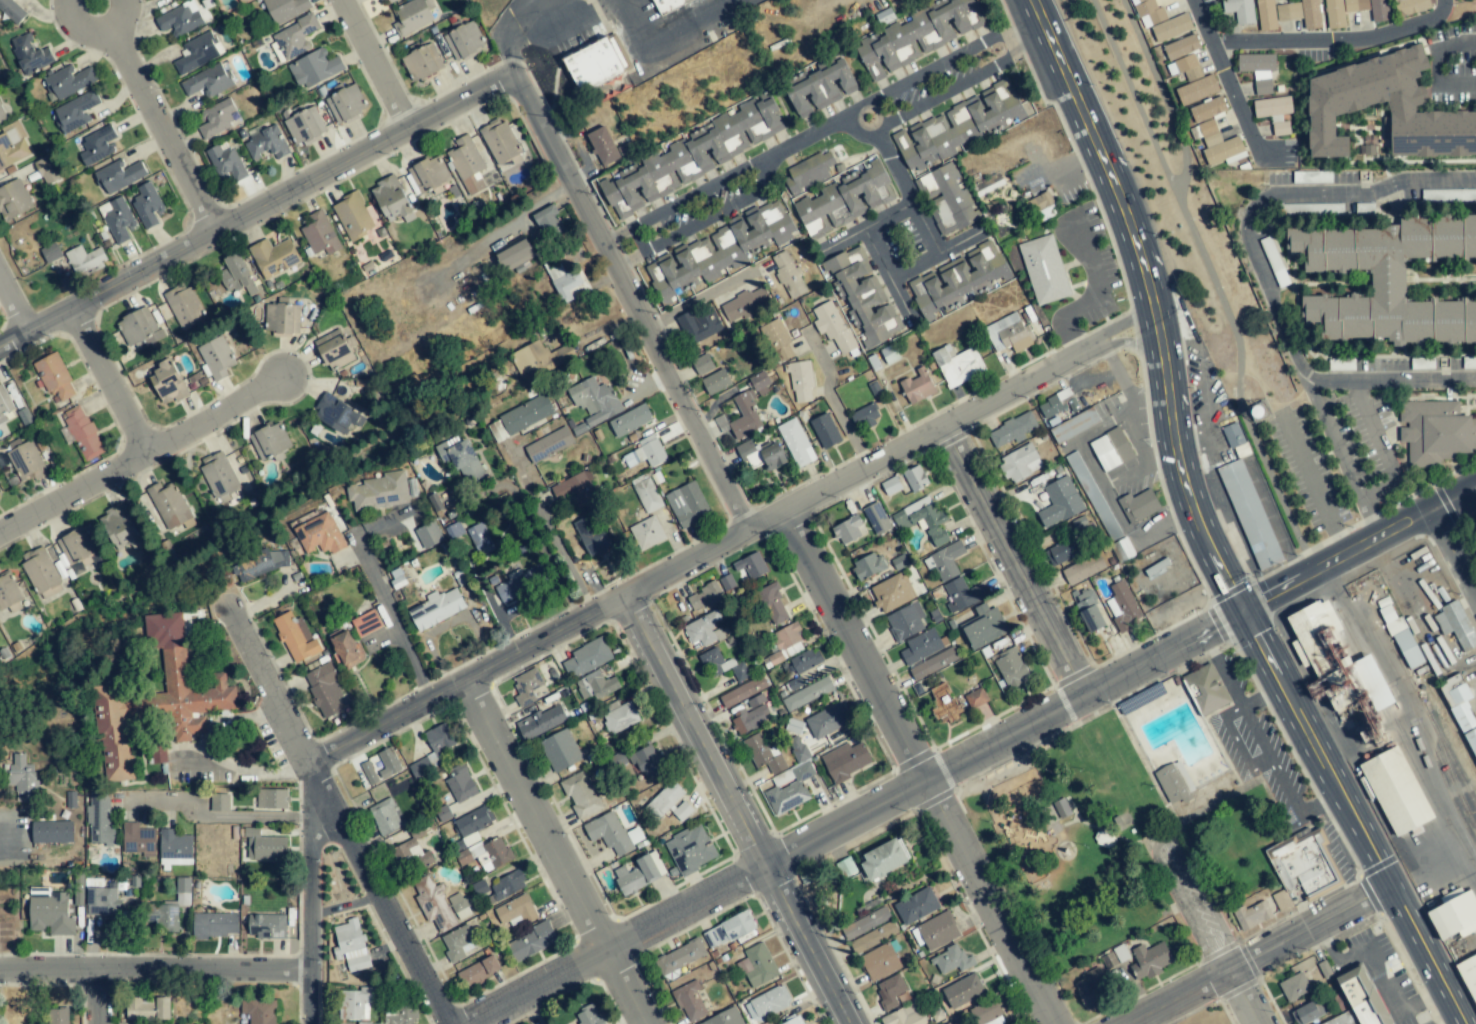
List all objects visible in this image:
road: (93, 0)
road: (94, 0)
building: (381, 0)
building: (390, 0)
building: (242, 1)
building: (656, 3)
building: (1411, 6)
building: (285, 9)
building: (12, 10)
building: (1379, 10)
building: (1238, 11)
building: (1342, 11)
building: (1149, 12)
building: (1276, 13)
building: (1311, 14)
building: (411, 17)
building: (180, 19)
building: (1171, 27)
road: (511, 29)
building: (917, 35)
building: (294, 38)
building: (464, 40)
road: (669, 40)
road: (1333, 41)
building: (1181, 47)
building: (198, 52)
building: (30, 54)
road: (373, 64)
building: (419, 64)
building: (593, 64)
building: (1185, 67)
road: (1433, 68)
building: (315, 69)
building: (1258, 70)
road: (1067, 79)
building: (67, 81)
building: (207, 81)
road: (487, 83)
building: (821, 86)
building: (1196, 90)
road: (1231, 90)
building: (346, 104)
building: (1335, 108)
building: (1207, 109)
building: (75, 111)
building: (1274, 112)
building: (2, 116)
road: (156, 116)
building: (215, 119)
building: (957, 126)
building: (302, 127)
road: (818, 128)
building: (499, 141)
building: (267, 143)
building: (95, 145)
building: (1219, 145)
building: (606, 146)
building: (12, 148)
building: (692, 156)
building: (225, 161)
building: (467, 164)
building: (46, 170)
building: (809, 173)
building: (428, 174)
building: (119, 175)
building: (1305, 177)
building: (390, 198)
building: (844, 198)
building: (13, 200)
building: (948, 200)
building: (148, 205)
building: (352, 215)
building: (117, 219)
building: (549, 223)
building: (319, 234)
building: (718, 250)
building: (50, 253)
building: (514, 253)
building: (273, 257)
building: (85, 259)
road: (926, 265)
road: (1261, 268)
building: (1044, 269)
building: (234, 273)
building: (788, 275)
building: (958, 278)
building: (566, 280)
building: (1386, 280)
road: (1093, 294)
building: (861, 296)
road: (701, 299)
road: (13, 302)
building: (744, 304)
building: (285, 318)
building: (699, 324)
building: (832, 326)
building: (139, 327)
building: (1009, 334)
building: (778, 340)
building: (334, 349)
building: (889, 354)
building: (216, 357)
building: (537, 358)
building: (1469, 363)
building: (702, 364)
railway: (1244, 364)
building: (1341, 364)
building: (957, 365)
building: (54, 378)
road: (1391, 379)
road: (108, 380)
building: (167, 381)
building: (715, 381)
building: (801, 381)
building: (760, 383)
building: (917, 386)
road: (1168, 388)
building: (594, 400)
building: (4, 401)
road: (832, 402)
building: (1056, 404)
building: (336, 413)
road: (212, 416)
building: (745, 416)
building: (864, 416)
building: (520, 418)
building: (630, 420)
building: (1074, 425)
building: (1011, 430)
building: (825, 431)
building: (1435, 431)
building: (82, 432)
building: (1233, 435)
building: (270, 440)
building: (795, 442)
building: (548, 445)
road: (1381, 450)
building: (646, 452)
building: (1104, 453)
road: (892, 454)
building: (761, 455)
building: (462, 459)
building: (27, 460)
road: (1088, 461)
building: (1019, 463)
road: (1140, 468)
building: (218, 475)
building: (915, 478)
building: (890, 485)
road: (1312, 490)
building: (574, 491)
road: (72, 492)
building: (380, 492)
building: (646, 494)
building: (1093, 496)
building: (0, 499)
building: (1059, 502)
building: (687, 504)
building: (1139, 505)
building: (170, 508)
building: (1250, 514)
building: (876, 518)
building: (923, 520)
building: (119, 526)
park: (1467, 529)
building: (454, 530)
building: (848, 530)
road: (553, 532)
building: (646, 533)
building: (321, 535)
building: (428, 535)
building: (591, 537)
building: (479, 539)
building: (77, 548)
road: (1456, 548)
building: (1122, 549)
road: (1359, 550)
building: (1058, 553)
building: (945, 561)
building: (751, 565)
road: (1009, 565)
building: (868, 566)
building: (1083, 569)
building: (42, 573)
building: (521, 582)
building: (726, 582)
traffic signals: (1230, 587)
building: (9, 592)
building: (891, 593)
building: (963, 594)
building: (705, 595)
traffic signals: (1262, 603)
building: (773, 604)
building: (1122, 606)
building: (436, 608)
building: (1089, 611)
road: (390, 617)
building: (905, 621)
building: (367, 623)
building: (1455, 625)
building: (983, 626)
building: (704, 629)
traffic signals: (1214, 629)
traffic signals: (1256, 634)
building: (1400, 635)
building: (295, 636)
building: (788, 640)
building: (920, 646)
building: (346, 647)
building: (587, 657)
building: (806, 660)
building: (933, 664)
building: (1339, 664)
building: (722, 665)
building: (1010, 667)
road: (469, 679)
building: (596, 685)
building: (527, 686)
building: (324, 688)
building: (1207, 690)
building: (743, 691)
building: (807, 694)
building: (975, 698)
building: (157, 699)
building: (1458, 700)
building: (944, 704)
building: (751, 715)
building: (620, 717)
building: (827, 720)
building: (541, 722)
road: (1006, 739)
building: (1471, 740)
building: (438, 741)
road: (1318, 749)
building: (560, 750)
building: (800, 753)
building: (763, 754)
building: (646, 761)
building: (845, 761)
building: (386, 763)
railway: (1451, 764)
road: (183, 766)
building: (420, 768)
road: (914, 769)
railway: (1449, 771)
building: (368, 772)
parking lot: (1274, 773)
building: (23, 778)
railway: (1446, 778)
building: (460, 783)
building: (1174, 783)
road: (327, 790)
building: (790, 791)
building: (1395, 791)
building: (582, 794)
building: (272, 799)
building: (220, 802)
building: (669, 802)
road: (738, 809)
building: (1063, 809)
road: (214, 816)
building: (384, 817)
building: (100, 819)
road: (1175, 821)
building: (52, 831)
building: (612, 833)
building: (138, 840)
building: (472, 840)
park: (1073, 843)
building: (265, 846)
building: (175, 848)
building: (690, 849)
road: (558, 852)
building: (411, 854)
building: (883, 859)
building: (1301, 868)
building: (639, 873)
building: (500, 888)
road: (313, 893)
parking lot: (1195, 900)
building: (1281, 900)
building: (103, 901)
road: (349, 904)
building: (439, 904)
building: (916, 905)
building: (168, 909)
building: (516, 910)
building: (49, 912)
building: (1453, 914)
building: (1252, 915)
building: (865, 923)
building: (215, 925)
building: (266, 925)
building: (728, 930)
building: (935, 931)
building: (873, 936)
road: (1205, 936)
building: (532, 941)
building: (458, 943)
building: (350, 944)
road: (618, 944)
road: (1262, 954)
road: (1430, 954)
building: (679, 957)
building: (952, 960)
building: (879, 962)
building: (758, 964)
road: (205, 968)
road: (49, 970)
building: (478, 971)
road: (1378, 973)
building: (1469, 973)
building: (1293, 986)
building: (1089, 987)
building: (889, 991)
building: (963, 991)
road: (98, 996)
building: (1362, 996)
building: (689, 1001)
building: (358, 1003)
building: (767, 1003)
building: (147, 1009)
building: (259, 1010)
building: (1305, 1013)
building: (399, 1014)
building: (987, 1014)
building: (58, 1015)
building: (588, 1015)
building: (905, 1015)
building: (725, 1018)
building: (1342, 1018)
building: (793, 1020)
building: (126, 1023)
building: (948, 1023)
road: (1465, 1023)

